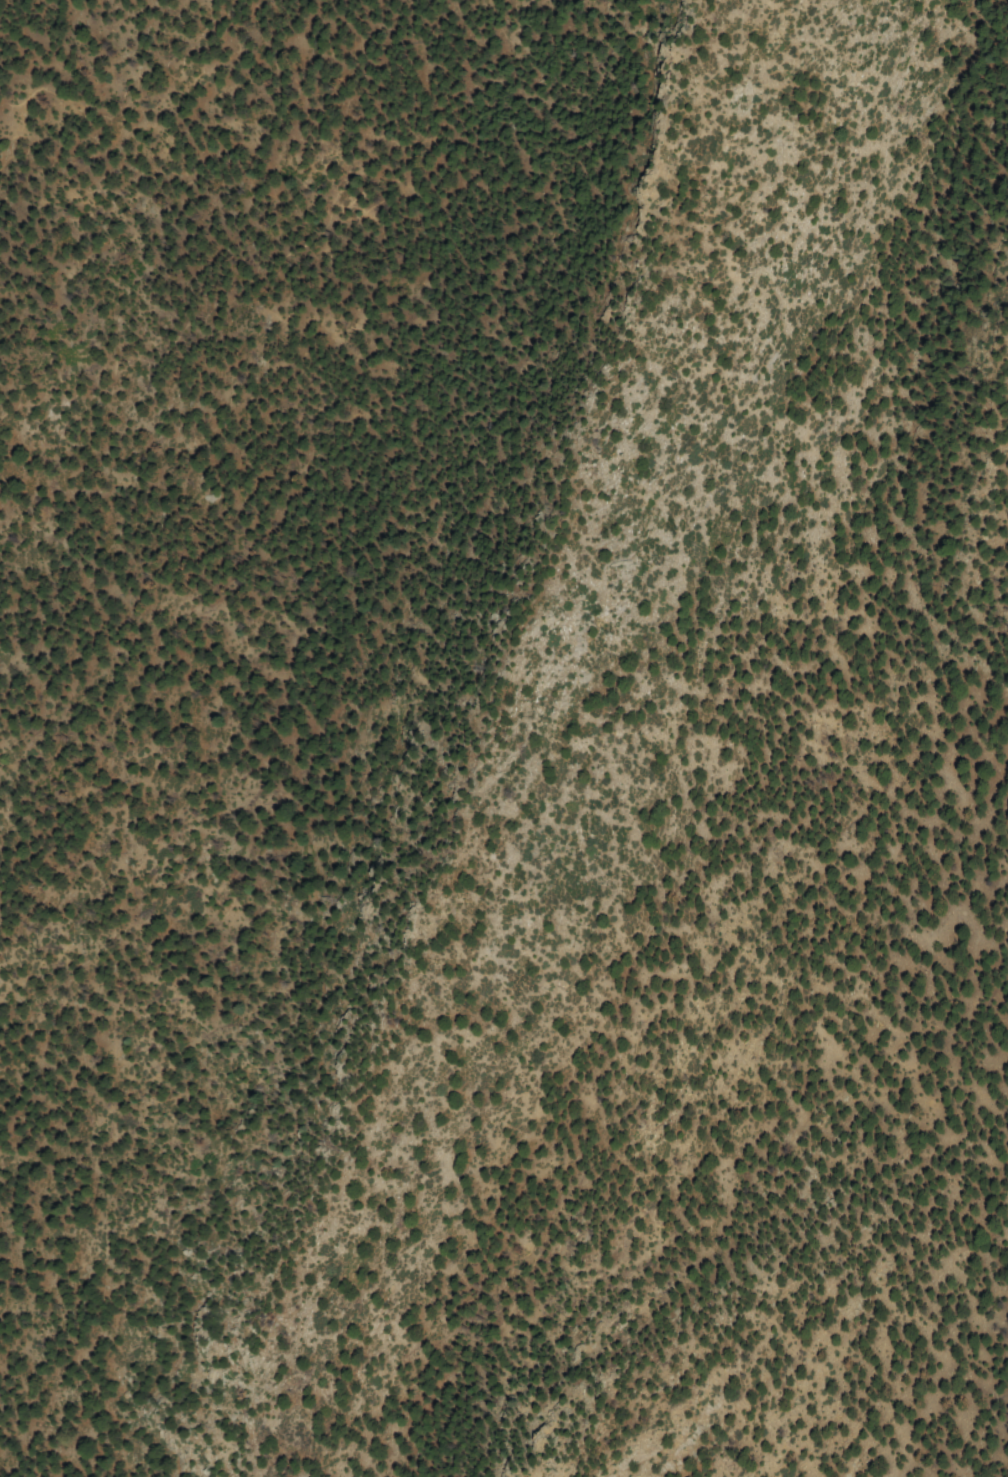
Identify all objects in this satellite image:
road: (27, 438)

